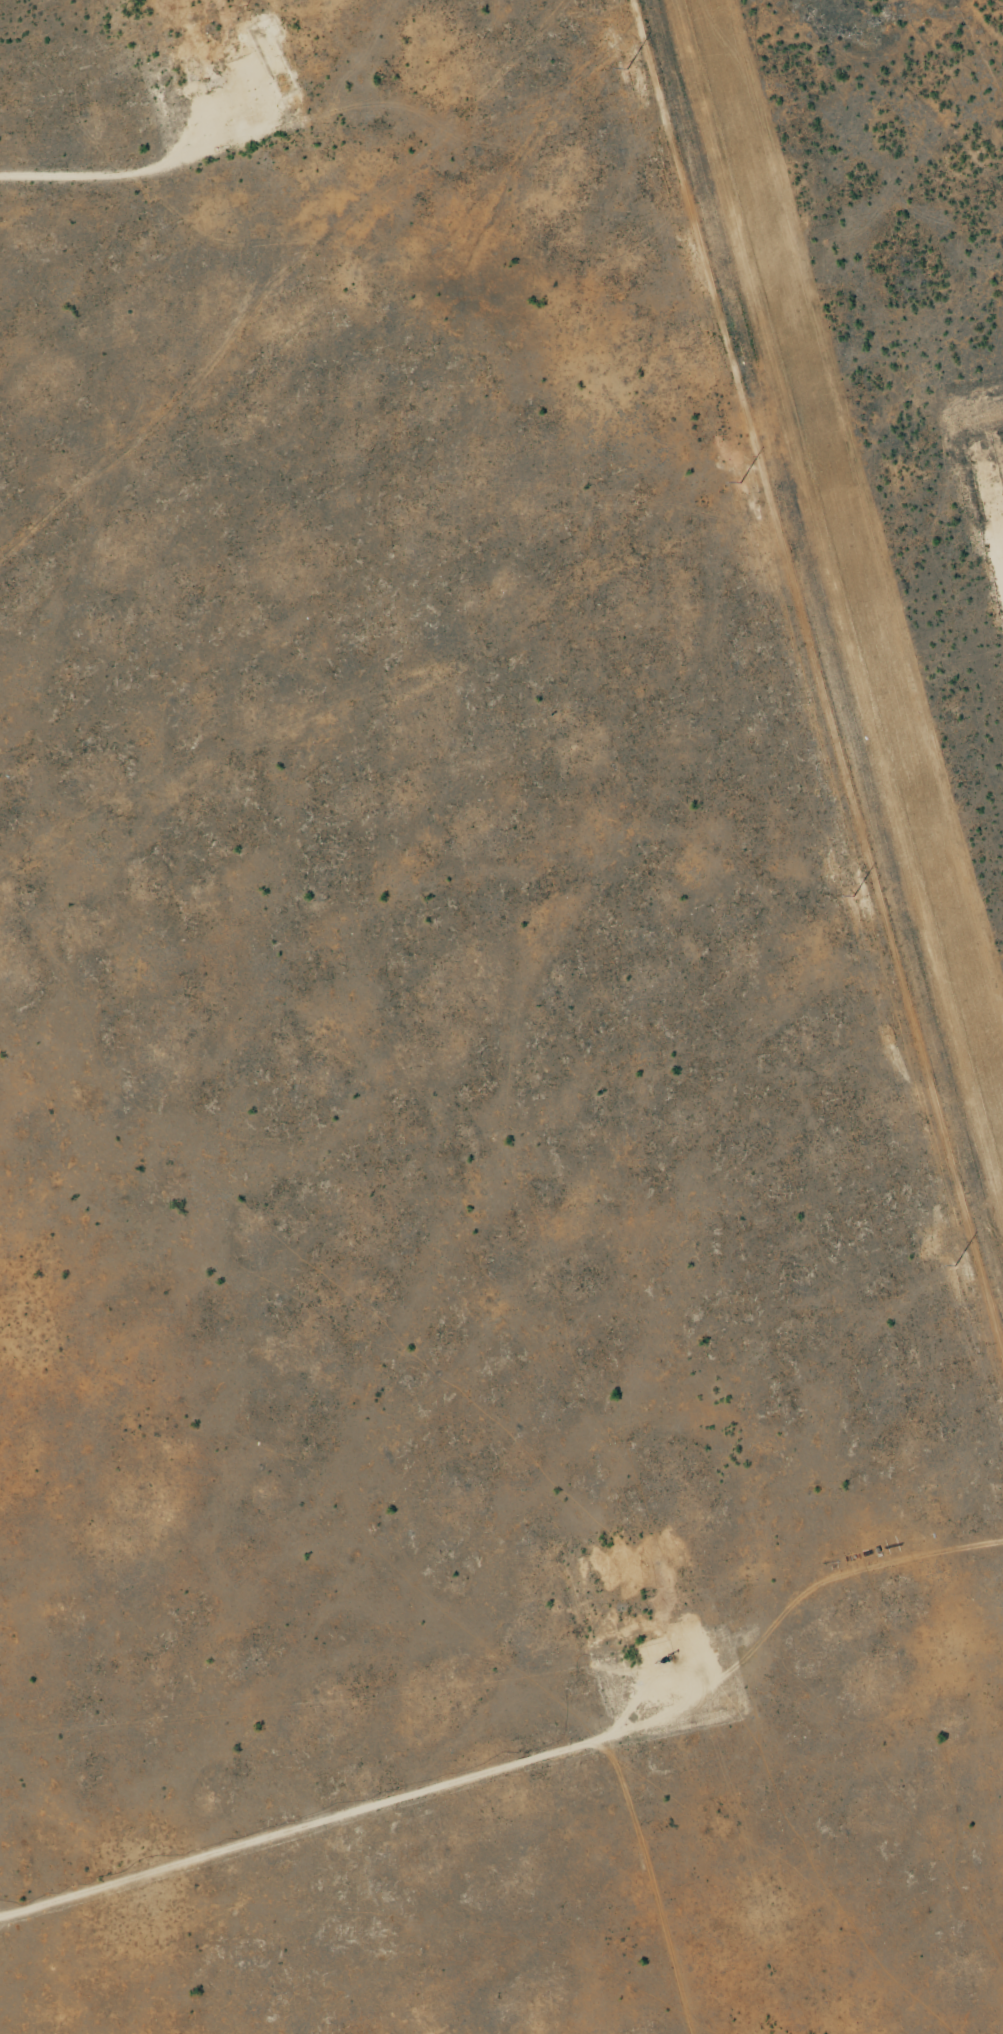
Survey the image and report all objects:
road: (916, 91)

